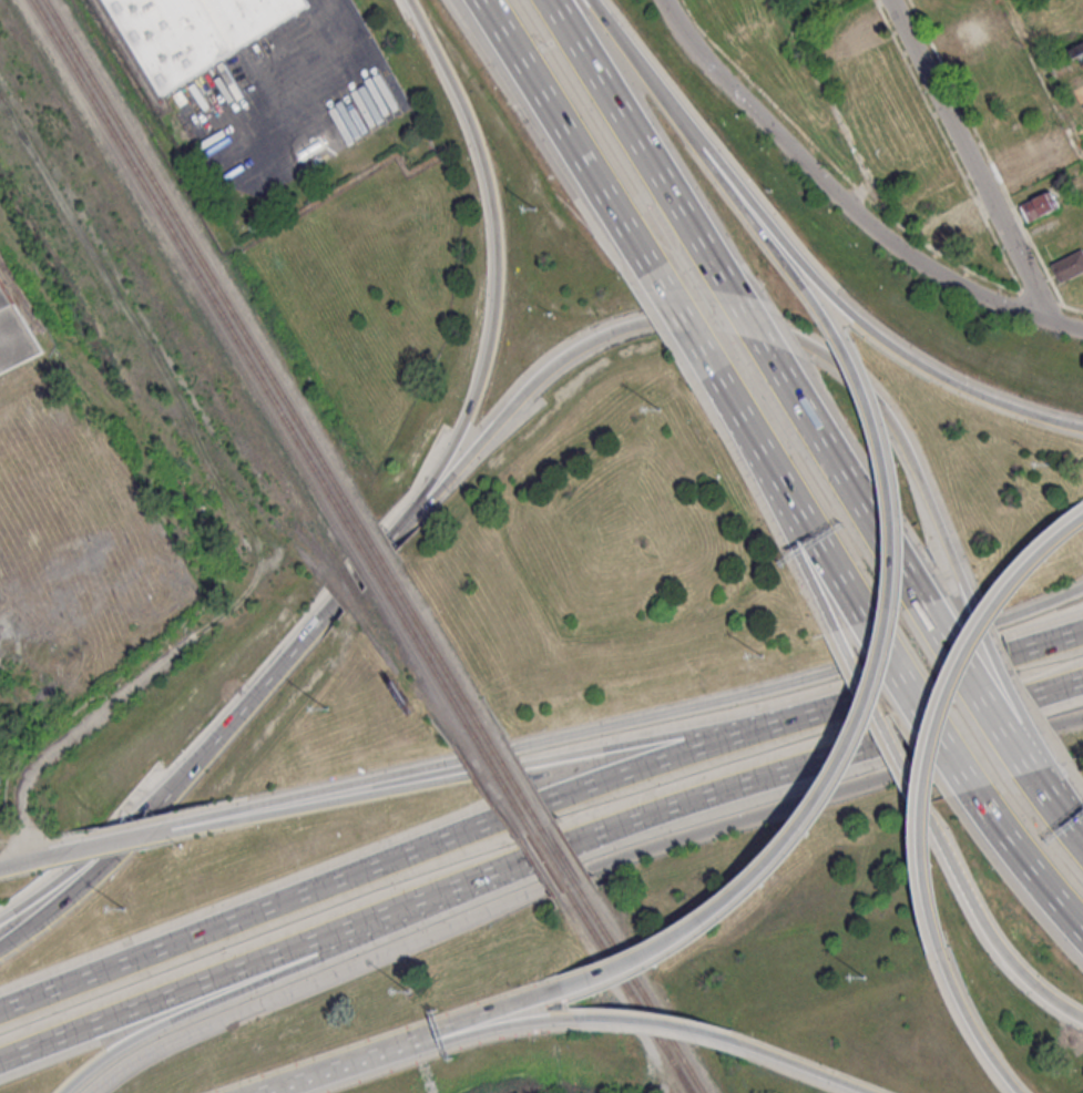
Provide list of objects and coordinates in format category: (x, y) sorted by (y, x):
building: (197, 33)
building: (860, 33)
building: (961, 37)
road: (633, 53)
building: (1077, 53)
road: (339, 85)
railway: (149, 111)
road: (571, 133)
road: (643, 151)
building: (1026, 159)
road: (969, 161)
road: (844, 204)
building: (1039, 205)
street lamp: (540, 211)
road: (750, 218)
building: (954, 221)
road: (494, 256)
building: (1067, 266)
railway: (205, 267)
railway: (197, 270)
road: (846, 308)
road: (725, 318)
road: (685, 321)
road: (752, 328)
building: (16, 336)
street lamp: (662, 411)
street lamp: (1052, 470)
road: (846, 482)
road: (790, 494)
road: (774, 504)
road: (1063, 532)
railway: (375, 551)
railway: (366, 560)
road: (1040, 604)
road: (1045, 641)
road: (915, 645)
railway: (437, 653)
road: (284, 656)
street lamp: (765, 657)
railway: (427, 660)
road: (929, 676)
road: (1004, 686)
road: (1060, 686)
road: (975, 695)
road: (922, 707)
street lamp: (330, 709)
road: (825, 709)
road: (674, 712)
road: (876, 718)
road: (956, 719)
road: (1067, 719)
road: (865, 727)
road: (72, 736)
road: (661, 738)
road: (932, 742)
road: (971, 749)
road: (489, 753)
road: (673, 759)
road: (498, 769)
road: (723, 790)
road: (316, 793)
road: (1067, 798)
road: (323, 805)
road: (523, 809)
road: (1056, 809)
railway: (534, 813)
railway: (524, 818)
road: (737, 819)
road: (165, 831)
road: (112, 845)
road: (551, 850)
road: (79, 858)
road: (33, 862)
road: (1032, 867)
road: (565, 877)
road: (84, 878)
street lamp: (124, 910)
road: (249, 915)
road: (980, 929)
road: (396, 948)
road: (264, 958)
road: (282, 971)
street lamp: (867, 981)
railway: (641, 990)
railway: (630, 993)
street lamp: (411, 994)
road: (645, 1021)
road: (449, 1031)
road: (974, 1033)
road: (165, 1043)
road: (453, 1044)
road: (786, 1062)
road: (295, 1082)

